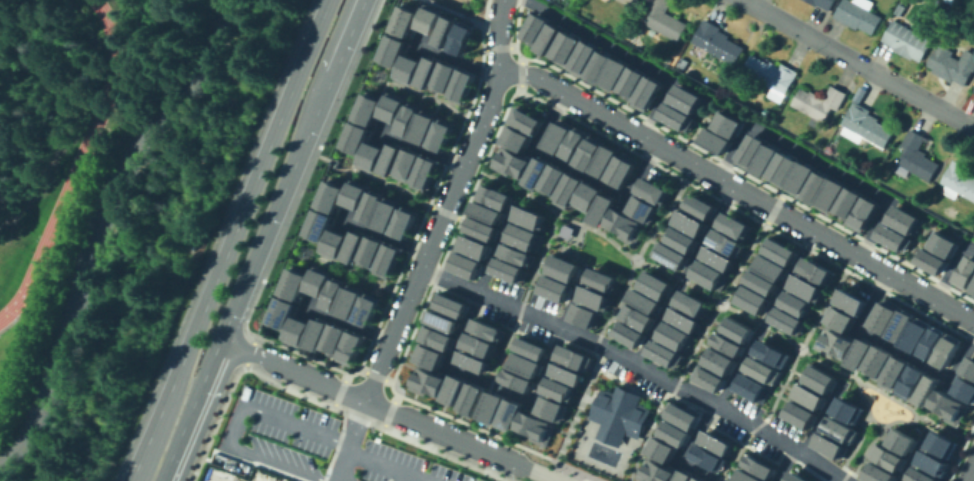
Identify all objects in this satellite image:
building: (559, 1)
building: (630, 2)
building: (823, 3)
road: (464, 14)
building: (858, 14)
building: (431, 19)
building: (665, 19)
building: (406, 20)
road: (220, 24)
building: (535, 29)
building: (447, 32)
road: (347, 35)
building: (462, 38)
building: (551, 38)
building: (907, 40)
building: (718, 42)
building: (568, 47)
building: (394, 52)
road: (625, 55)
building: (585, 57)
road: (456, 60)
road: (860, 62)
building: (953, 63)
building: (601, 66)
building: (410, 70)
building: (428, 72)
building: (616, 73)
building: (771, 75)
building: (446, 78)
building: (633, 83)
building: (463, 86)
building: (973, 92)
building: (649, 93)
road: (433, 97)
building: (688, 99)
building: (819, 103)
building: (369, 108)
building: (393, 108)
building: (678, 117)
building: (409, 119)
building: (525, 122)
building: (729, 124)
building: (866, 125)
building: (425, 127)
building: (442, 135)
building: (356, 138)
building: (558, 138)
building: (715, 138)
building: (517, 139)
building: (574, 145)
road: (423, 149)
building: (749, 150)
building: (590, 154)
building: (372, 157)
building: (916, 157)
building: (391, 159)
building: (764, 159)
building: (604, 161)
track: (71, 163)
road: (819, 163)
building: (511, 164)
building: (408, 165)
building: (781, 169)
building: (620, 172)
building: (425, 173)
road: (580, 173)
road: (370, 174)
building: (535, 174)
building: (799, 178)
building: (552, 180)
building: (959, 180)
building: (814, 187)
road: (738, 188)
building: (568, 191)
building: (653, 192)
building: (356, 193)
building: (830, 194)
road: (248, 195)
building: (331, 195)
building: (587, 197)
building: (494, 198)
road: (448, 203)
building: (847, 203)
building: (371, 204)
building: (699, 206)
road: (548, 207)
road: (669, 210)
building: (644, 211)
building: (387, 212)
building: (601, 212)
building: (863, 213)
building: (485, 214)
building: (529, 219)
building: (403, 220)
building: (907, 220)
building: (689, 222)
building: (318, 224)
road: (94, 225)
building: (733, 225)
building: (624, 228)
building: (566, 231)
building: (480, 232)
road: (385, 235)
road: (263, 238)
building: (896, 238)
building: (524, 239)
building: (681, 239)
road: (160, 240)
road: (210, 240)
building: (725, 242)
building: (334, 243)
building: (947, 245)
building: (354, 246)
building: (474, 249)
building: (779, 250)
building: (371, 251)
park: (601, 252)
road: (749, 252)
building: (671, 255)
building: (516, 257)
building: (388, 258)
building: (717, 258)
building: (934, 263)
road: (636, 264)
building: (770, 266)
building: (464, 267)
building: (563, 268)
building: (814, 269)
road: (952, 269)
building: (509, 272)
building: (966, 272)
road: (360, 273)
road: (685, 274)
building: (707, 274)
road: (680, 277)
building: (319, 279)
building: (294, 281)
building: (601, 282)
building: (761, 282)
building: (654, 284)
building: (805, 286)
building: (973, 287)
building: (555, 290)
building: (335, 292)
building: (752, 298)
building: (596, 299)
road: (831, 299)
building: (350, 300)
building: (643, 300)
building: (850, 300)
building: (690, 302)
building: (796, 302)
building: (451, 305)
building: (367, 308)
road: (724, 308)
building: (281, 312)
building: (883, 315)
building: (637, 316)
building: (585, 317)
building: (839, 317)
building: (683, 318)
building: (787, 319)
building: (442, 321)
road: (349, 323)
road: (763, 323)
building: (900, 325)
road: (512, 328)
building: (736, 328)
building: (486, 329)
building: (297, 330)
building: (317, 333)
building: (627, 333)
building: (915, 334)
building: (673, 335)
building: (435, 336)
building: (334, 337)
building: (930, 342)
building: (727, 343)
building: (478, 344)
building: (833, 344)
building: (350, 346)
building: (530, 348)
road: (898, 350)
building: (946, 350)
road: (805, 352)
building: (771, 353)
building: (859, 353)
building: (664, 354)
building: (428, 355)
building: (573, 357)
building: (717, 359)
building: (472, 361)
building: (876, 361)
building: (525, 364)
road: (638, 364)
road: (741, 364)
building: (968, 367)
building: (762, 369)
building: (566, 373)
building: (893, 373)
road: (475, 377)
building: (708, 377)
building: (817, 377)
building: (517, 380)
building: (426, 381)
building: (910, 382)
road: (586, 383)
building: (751, 387)
building: (558, 388)
building: (964, 388)
building: (452, 389)
building: (926, 390)
road: (672, 394)
building: (807, 395)
road: (890, 395)
building: (470, 398)
building: (491, 407)
building: (551, 407)
building: (948, 407)
building: (846, 409)
road: (388, 410)
building: (798, 413)
building: (680, 414)
building: (508, 415)
building: (619, 416)
road: (822, 418)
road: (235, 420)
road: (765, 420)
road: (876, 421)
building: (534, 427)
building: (839, 429)
building: (673, 432)
road: (161, 437)
road: (350, 440)
building: (900, 441)
building: (719, 442)
road: (513, 443)
building: (940, 444)
parking lot: (321, 445)
building: (829, 445)
building: (661, 448)
road: (583, 449)
building: (886, 456)
road: (914, 456)
building: (711, 458)
building: (931, 462)
road: (785, 464)
road: (388, 465)
building: (761, 467)
road: (969, 470)
building: (653, 471)
road: (850, 471)
building: (876, 472)
building: (921, 475)
building: (684, 476)
road: (846, 476)
building: (749, 477)
building: (797, 477)
road: (214, 478)
road: (590, 478)
building: (698, 478)

